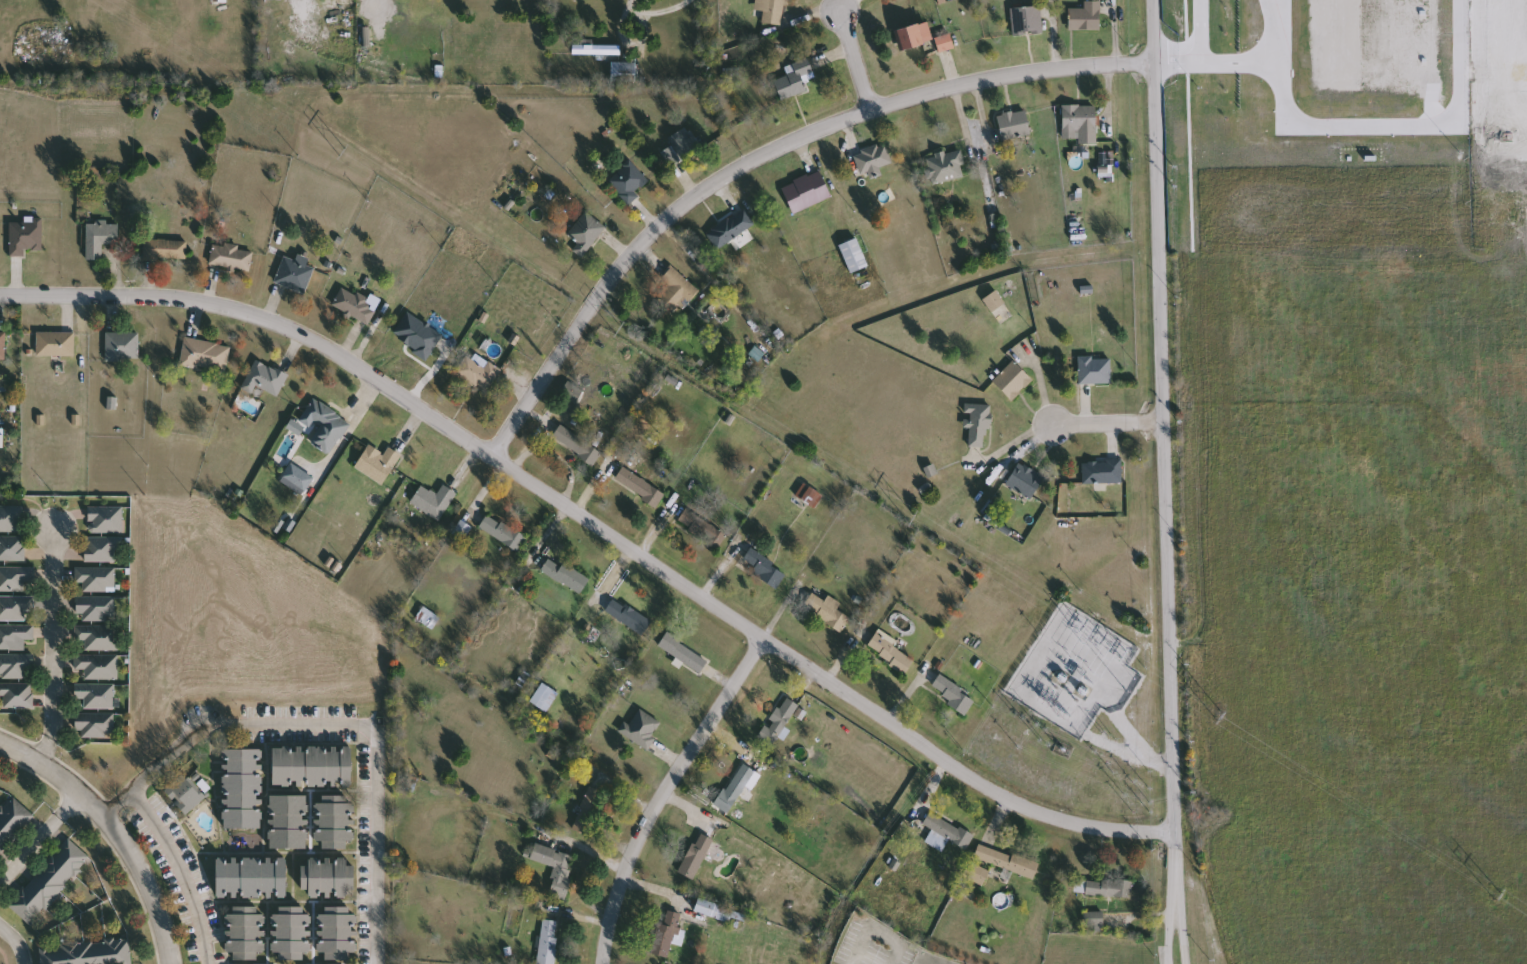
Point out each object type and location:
building: (220, 1)
road: (307, 3)
building: (773, 10)
building: (1087, 17)
road: (633, 18)
building: (1027, 21)
building: (913, 35)
building: (944, 42)
building: (596, 49)
road: (854, 60)
building: (624, 71)
building: (794, 79)
road: (976, 111)
building: (1081, 121)
building: (1014, 125)
road: (973, 143)
building: (680, 146)
power tower: (346, 149)
road: (760, 159)
building: (873, 159)
building: (946, 165)
building: (628, 180)
building: (806, 191)
building: (731, 227)
building: (586, 232)
building: (25, 236)
building: (100, 238)
building: (165, 250)
building: (854, 255)
building: (231, 257)
building: (294, 274)
building: (677, 291)
building: (355, 306)
power tower: (621, 326)
building: (55, 344)
building: (3, 346)
building: (122, 347)
building: (205, 355)
building: (1095, 371)
building: (480, 373)
building: (265, 379)
building: (1012, 381)
building: (572, 392)
road: (1109, 423)
building: (977, 424)
building: (327, 426)
building: (577, 445)
road: (1161, 455)
building: (378, 463)
building: (1102, 472)
building: (298, 478)
building: (1024, 481)
building: (640, 487)
building: (811, 497)
building: (434, 501)
power tower: (915, 516)
building: (12, 519)
building: (105, 519)
road: (598, 527)
building: (702, 529)
building: (501, 531)
building: (12, 548)
building: (102, 548)
building: (765, 569)
building: (565, 574)
building: (15, 578)
building: (97, 579)
building: (15, 607)
building: (96, 608)
building: (827, 610)
building: (628, 616)
building: (429, 618)
building: (15, 636)
building: (98, 637)
road: (53, 648)
building: (683, 652)
building: (890, 652)
building: (16, 666)
building: (98, 666)
power substation: (1077, 673)
building: (952, 694)
building: (17, 695)
building: (95, 695)
building: (545, 697)
power tower: (1221, 714)
building: (779, 720)
building: (95, 724)
road: (339, 727)
building: (641, 728)
building: (309, 763)
building: (241, 786)
building: (737, 787)
road: (662, 792)
building: (184, 795)
building: (332, 818)
building: (287, 820)
building: (13, 822)
road: (115, 830)
building: (948, 830)
road: (40, 838)
building: (696, 856)
building: (1006, 861)
building: (556, 868)
road: (179, 871)
building: (976, 873)
building: (248, 875)
building: (324, 876)
building: (49, 882)
building: (1104, 888)
building: (712, 910)
building: (1095, 919)
building: (243, 931)
building: (289, 931)
building: (335, 931)
building: (668, 934)
road: (1168, 936)
road: (1182, 936)
building: (548, 942)
road: (16, 943)
building: (89, 952)

